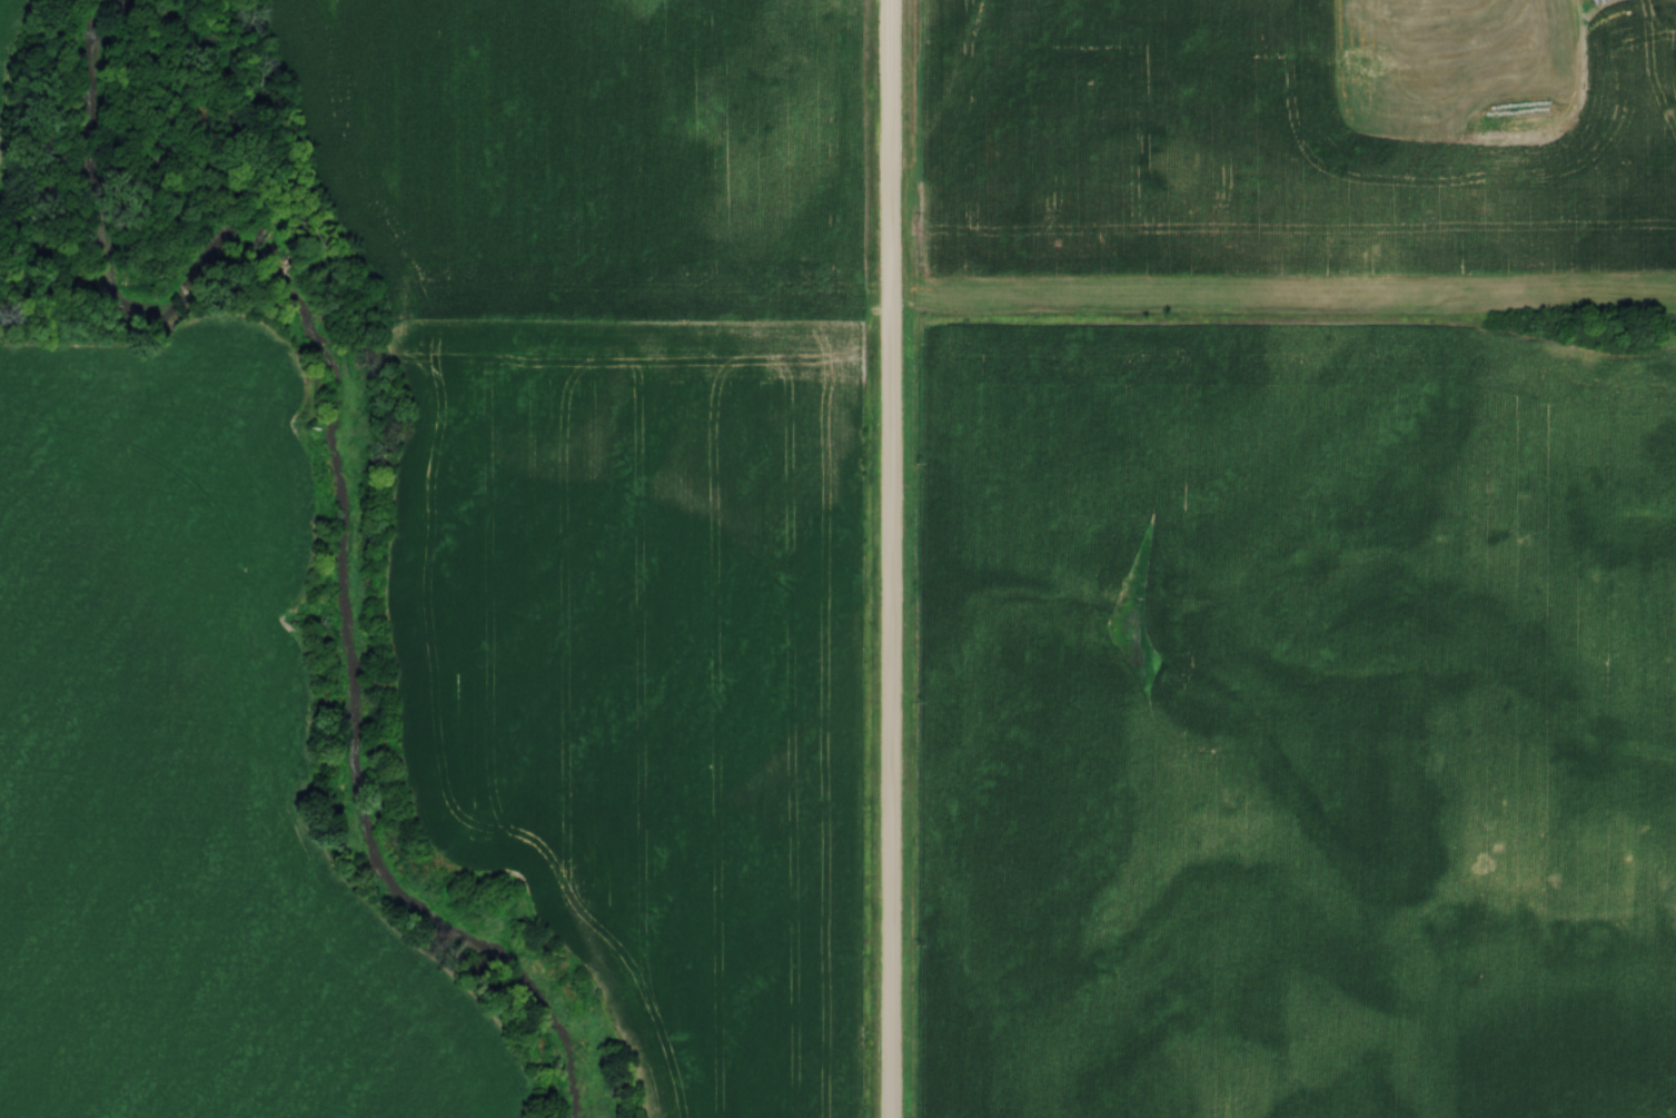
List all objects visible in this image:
river: (346, 481)
road: (891, 558)

